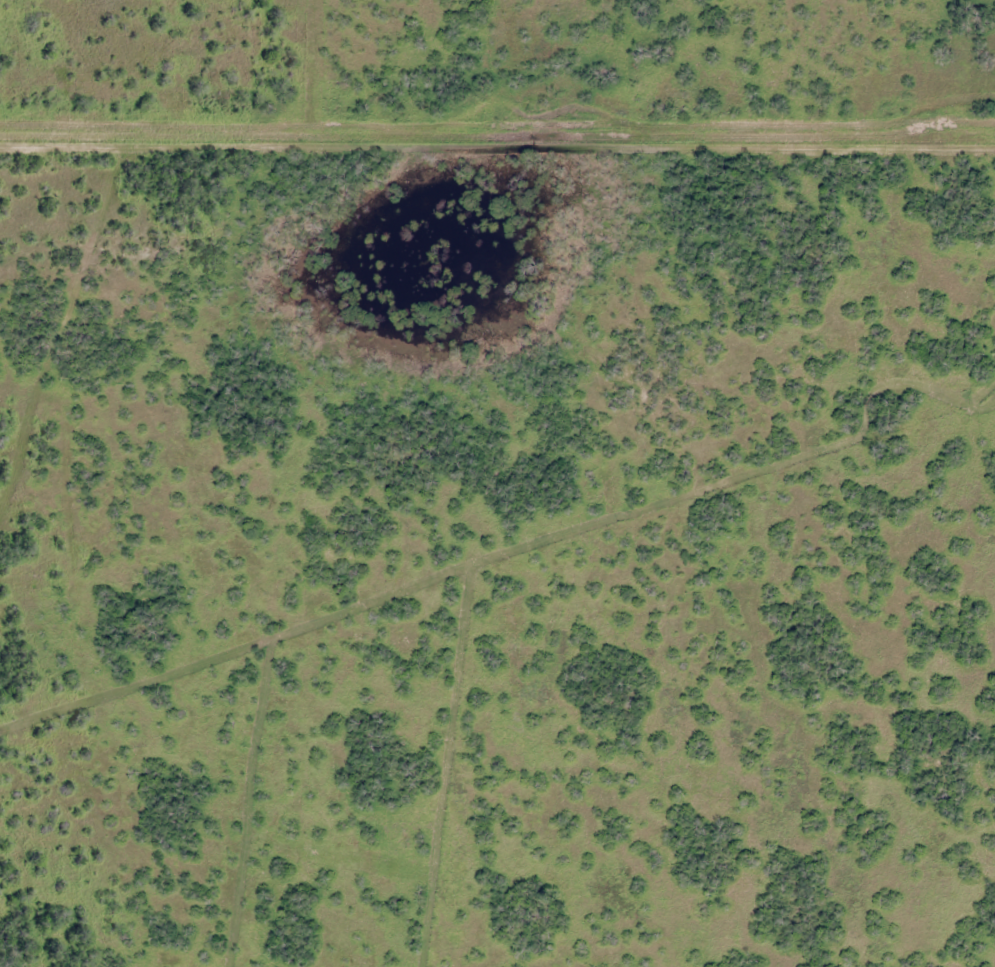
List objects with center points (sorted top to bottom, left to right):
road: (497, 148)

